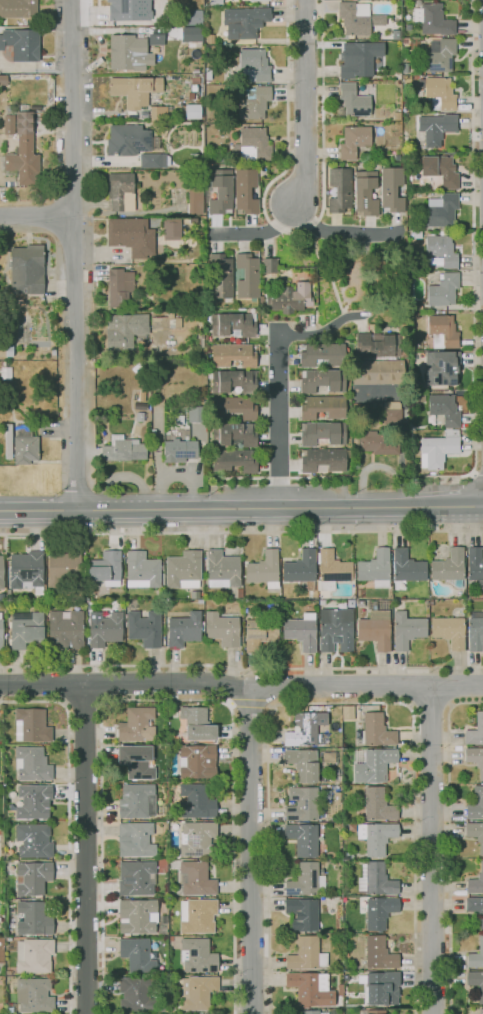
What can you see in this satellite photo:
building: (198, 1)
building: (216, 2)
building: (18, 8)
building: (127, 10)
building: (193, 17)
building: (354, 17)
building: (376, 19)
building: (434, 19)
building: (250, 22)
building: (396, 34)
building: (156, 35)
building: (192, 35)
building: (21, 43)
building: (128, 50)
building: (171, 52)
building: (439, 55)
building: (363, 60)
building: (256, 63)
building: (405, 69)
building: (208, 73)
building: (398, 76)
building: (3, 80)
building: (195, 80)
building: (194, 88)
building: (135, 89)
building: (440, 93)
building: (191, 95)
building: (252, 100)
building: (353, 101)
building: (1, 105)
road: (303, 106)
building: (191, 111)
building: (160, 113)
building: (397, 115)
building: (154, 126)
building: (436, 127)
road: (477, 137)
building: (118, 140)
building: (354, 141)
building: (253, 144)
building: (21, 149)
building: (449, 152)
building: (152, 157)
building: (440, 170)
road: (478, 176)
building: (391, 188)
building: (340, 190)
building: (121, 191)
building: (220, 191)
building: (245, 191)
building: (364, 191)
building: (195, 200)
building: (442, 210)
road: (38, 218)
building: (192, 219)
building: (172, 229)
road: (288, 232)
road: (256, 233)
building: (130, 234)
road: (343, 234)
building: (442, 249)
road: (76, 254)
building: (269, 265)
building: (27, 269)
road: (473, 270)
building: (222, 274)
building: (248, 275)
building: (119, 286)
building: (443, 289)
building: (289, 297)
road: (478, 302)
building: (415, 308)
building: (414, 315)
building: (165, 322)
building: (234, 324)
building: (371, 326)
building: (124, 329)
building: (27, 330)
building: (404, 331)
building: (443, 331)
building: (200, 339)
road: (478, 344)
building: (377, 346)
building: (6, 350)
building: (420, 352)
building: (232, 354)
building: (321, 354)
building: (3, 363)
building: (442, 369)
building: (377, 372)
building: (4, 373)
building: (230, 380)
building: (322, 380)
building: (415, 398)
building: (140, 406)
building: (322, 406)
building: (234, 407)
building: (443, 408)
building: (196, 413)
building: (391, 414)
building: (140, 416)
road: (279, 419)
building: (157, 420)
building: (322, 432)
building: (234, 434)
building: (192, 435)
building: (153, 439)
building: (376, 442)
building: (22, 445)
building: (123, 449)
building: (179, 450)
building: (436, 451)
building: (324, 459)
building: (234, 460)
road: (477, 472)
road: (313, 477)
road: (238, 478)
road: (273, 478)
road: (472, 502)
road: (424, 504)
road: (193, 508)
road: (241, 532)
building: (475, 565)
building: (408, 566)
building: (449, 567)
building: (26, 568)
building: (103, 568)
building: (375, 568)
building: (183, 569)
building: (221, 569)
building: (264, 569)
building: (301, 569)
building: (64, 570)
building: (141, 570)
building: (332, 570)
building: (0, 571)
building: (321, 601)
building: (431, 602)
building: (360, 603)
building: (396, 603)
building: (103, 627)
building: (144, 627)
building: (64, 629)
building: (183, 629)
building: (222, 629)
building: (336, 629)
building: (375, 629)
building: (407, 629)
building: (25, 630)
building: (449, 630)
building: (475, 631)
building: (301, 632)
building: (260, 633)
building: (0, 636)
road: (241, 669)
road: (241, 686)
road: (267, 687)
road: (430, 702)
road: (339, 703)
building: (196, 722)
building: (134, 723)
building: (30, 724)
building: (305, 728)
building: (377, 730)
building: (475, 731)
building: (329, 757)
building: (136, 759)
building: (475, 759)
building: (196, 760)
building: (30, 762)
building: (303, 763)
building: (372, 763)
building: (336, 797)
building: (33, 800)
building: (136, 800)
building: (197, 800)
building: (480, 801)
building: (302, 804)
building: (378, 804)
building: (475, 833)
building: (196, 836)
building: (376, 836)
building: (303, 838)
building: (134, 839)
building: (33, 840)
road: (449, 843)
road: (82, 848)
road: (432, 850)
road: (250, 851)
building: (31, 877)
building: (136, 878)
building: (195, 878)
building: (376, 879)
building: (304, 880)
building: (476, 882)
building: (475, 907)
building: (380, 913)
building: (302, 914)
building: (198, 915)
building: (137, 916)
building: (33, 917)
building: (379, 953)
building: (136, 954)
building: (306, 954)
building: (33, 955)
building: (195, 955)
building: (476, 955)
building: (345, 977)
building: (476, 982)
building: (381, 987)
building: (311, 988)
building: (339, 989)
building: (196, 990)
building: (135, 993)
building: (33, 994)
building: (480, 1010)
building: (309, 1012)
building: (372, 1012)

